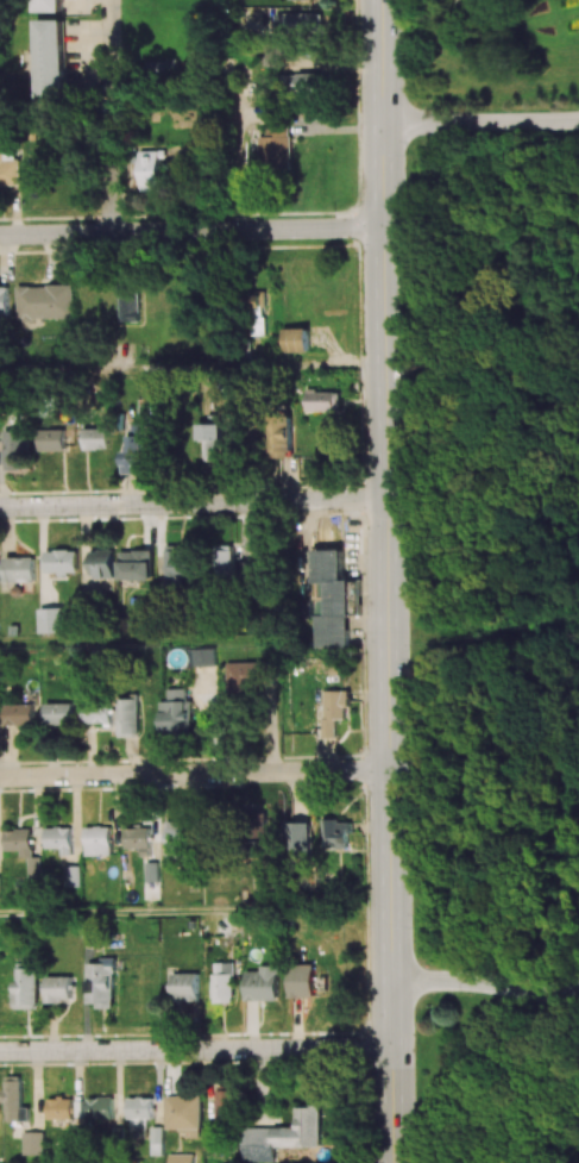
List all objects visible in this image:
building: (291, 0)
building: (45, 6)
road: (472, 18)
building: (303, 24)
building: (46, 61)
building: (313, 81)
road: (109, 117)
road: (480, 123)
building: (275, 146)
road: (235, 149)
park: (509, 152)
building: (11, 169)
building: (153, 170)
road: (573, 224)
road: (191, 231)
building: (4, 301)
building: (131, 301)
building: (258, 301)
building: (46, 302)
building: (294, 339)
road: (65, 371)
building: (322, 400)
building: (278, 436)
building: (99, 438)
building: (54, 439)
building: (213, 440)
building: (18, 450)
building: (137, 451)
road: (193, 504)
building: (221, 558)
building: (62, 562)
building: (102, 563)
building: (177, 563)
building: (137, 564)
building: (19, 569)
building: (246, 571)
road: (385, 581)
building: (328, 600)
building: (52, 620)
road: (80, 643)
building: (203, 657)
building: (247, 676)
building: (334, 709)
building: (99, 712)
building: (177, 712)
building: (59, 713)
building: (19, 714)
building: (130, 717)
park: (515, 731)
road: (194, 774)
building: (258, 824)
building: (335, 833)
building: (300, 838)
building: (59, 839)
building: (139, 839)
building: (99, 840)
building: (177, 840)
building: (24, 850)
building: (153, 871)
building: (71, 876)
road: (140, 911)
building: (302, 981)
building: (222, 982)
building: (101, 983)
building: (263, 983)
road: (484, 983)
building: (26, 986)
building: (184, 987)
building: (58, 988)
road: (196, 1050)
building: (14, 1100)
building: (226, 1106)
building: (59, 1108)
building: (100, 1108)
building: (184, 1113)
building: (139, 1117)
building: (287, 1136)
building: (213, 1142)
building: (33, 1143)
building: (180, 1158)

